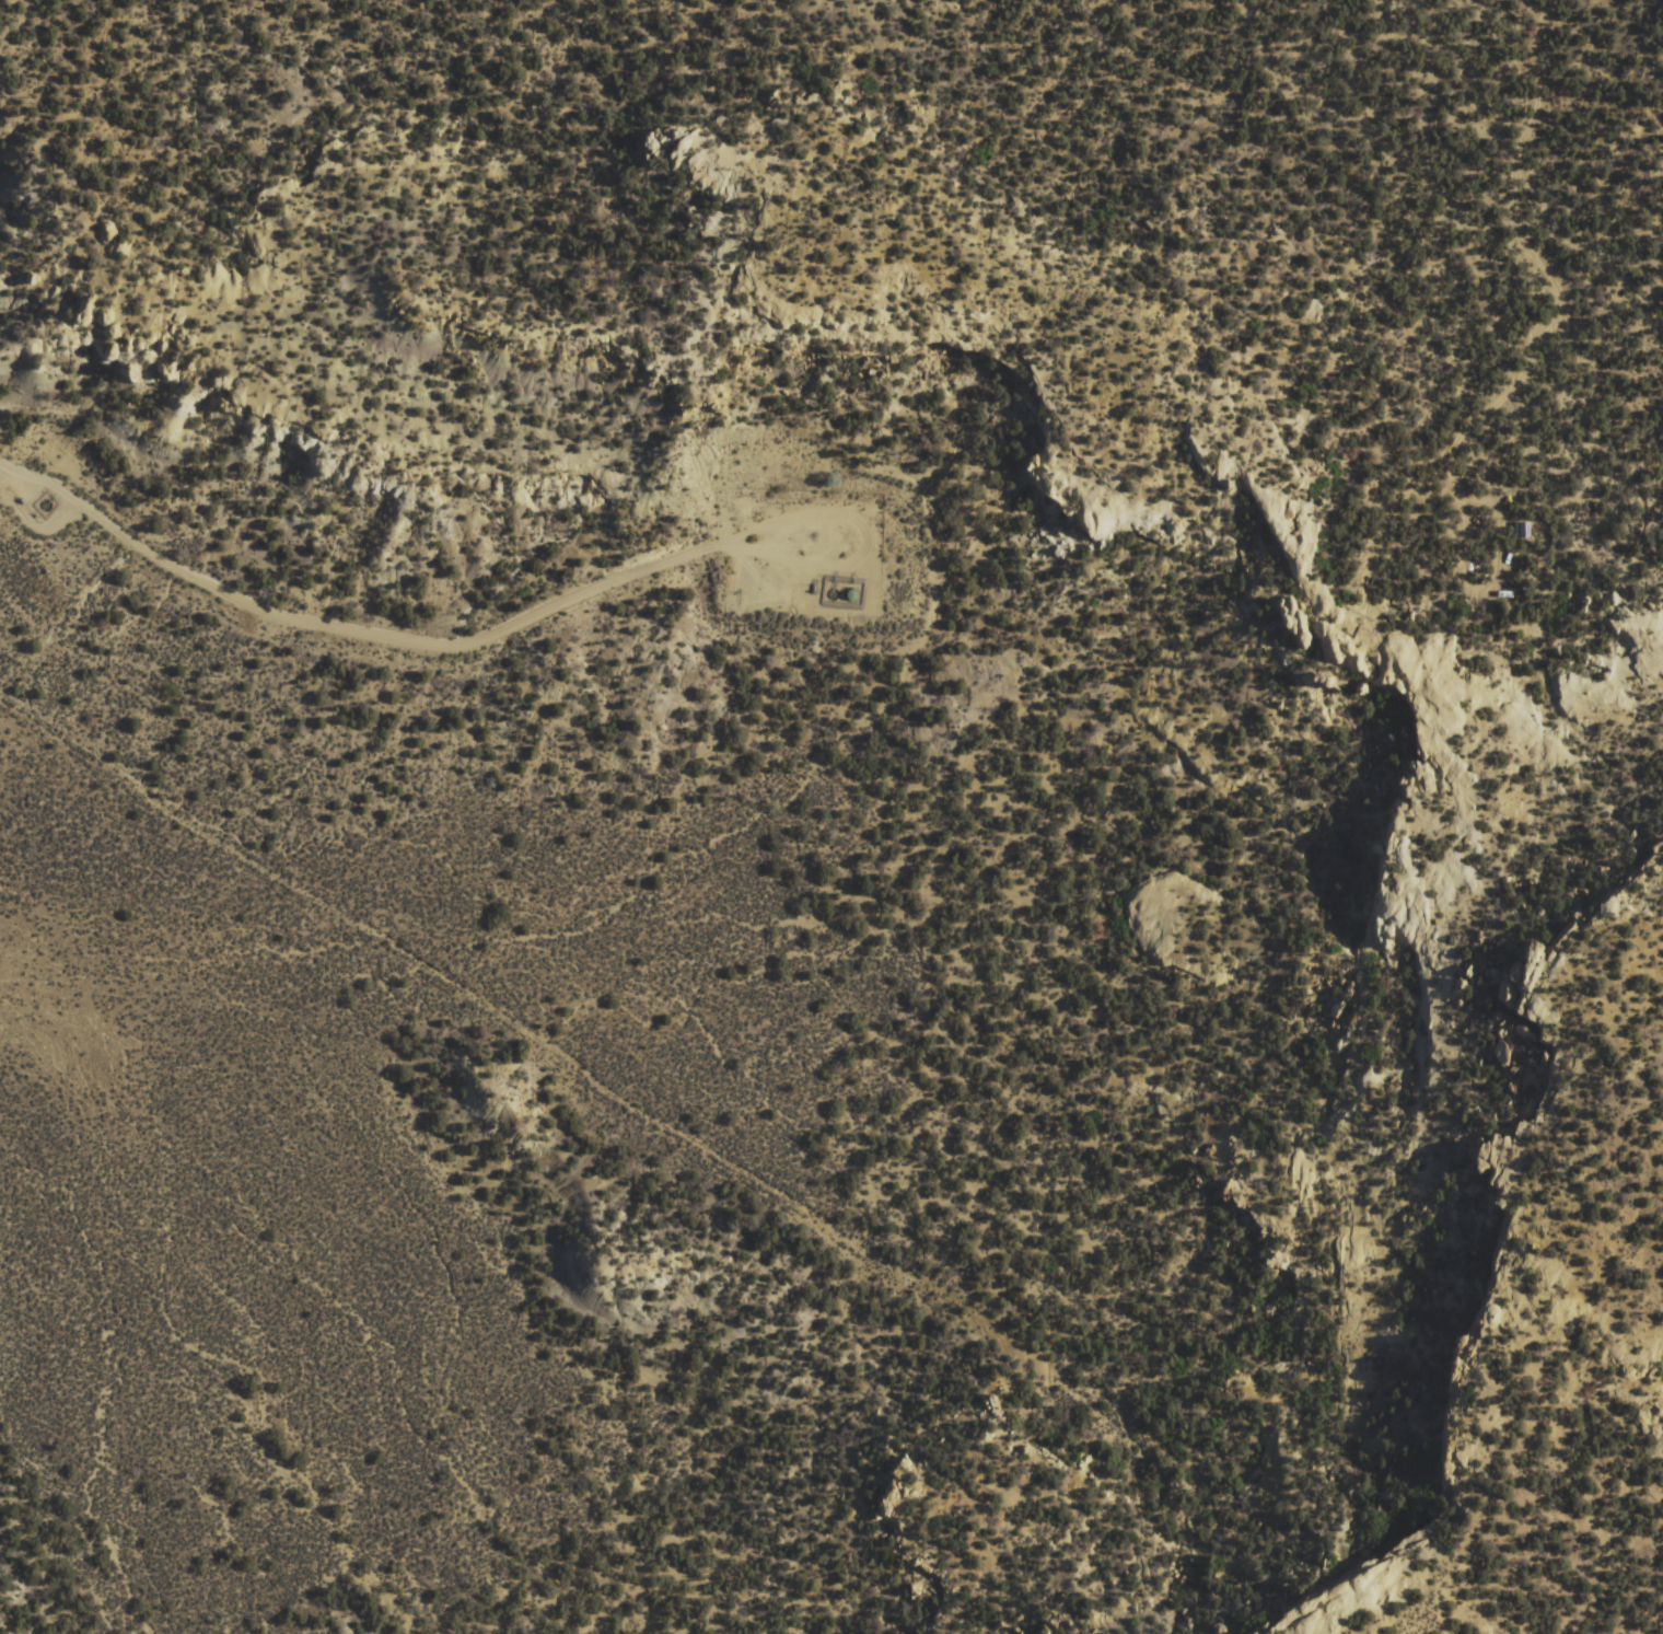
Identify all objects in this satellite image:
building: (1515, 530)

